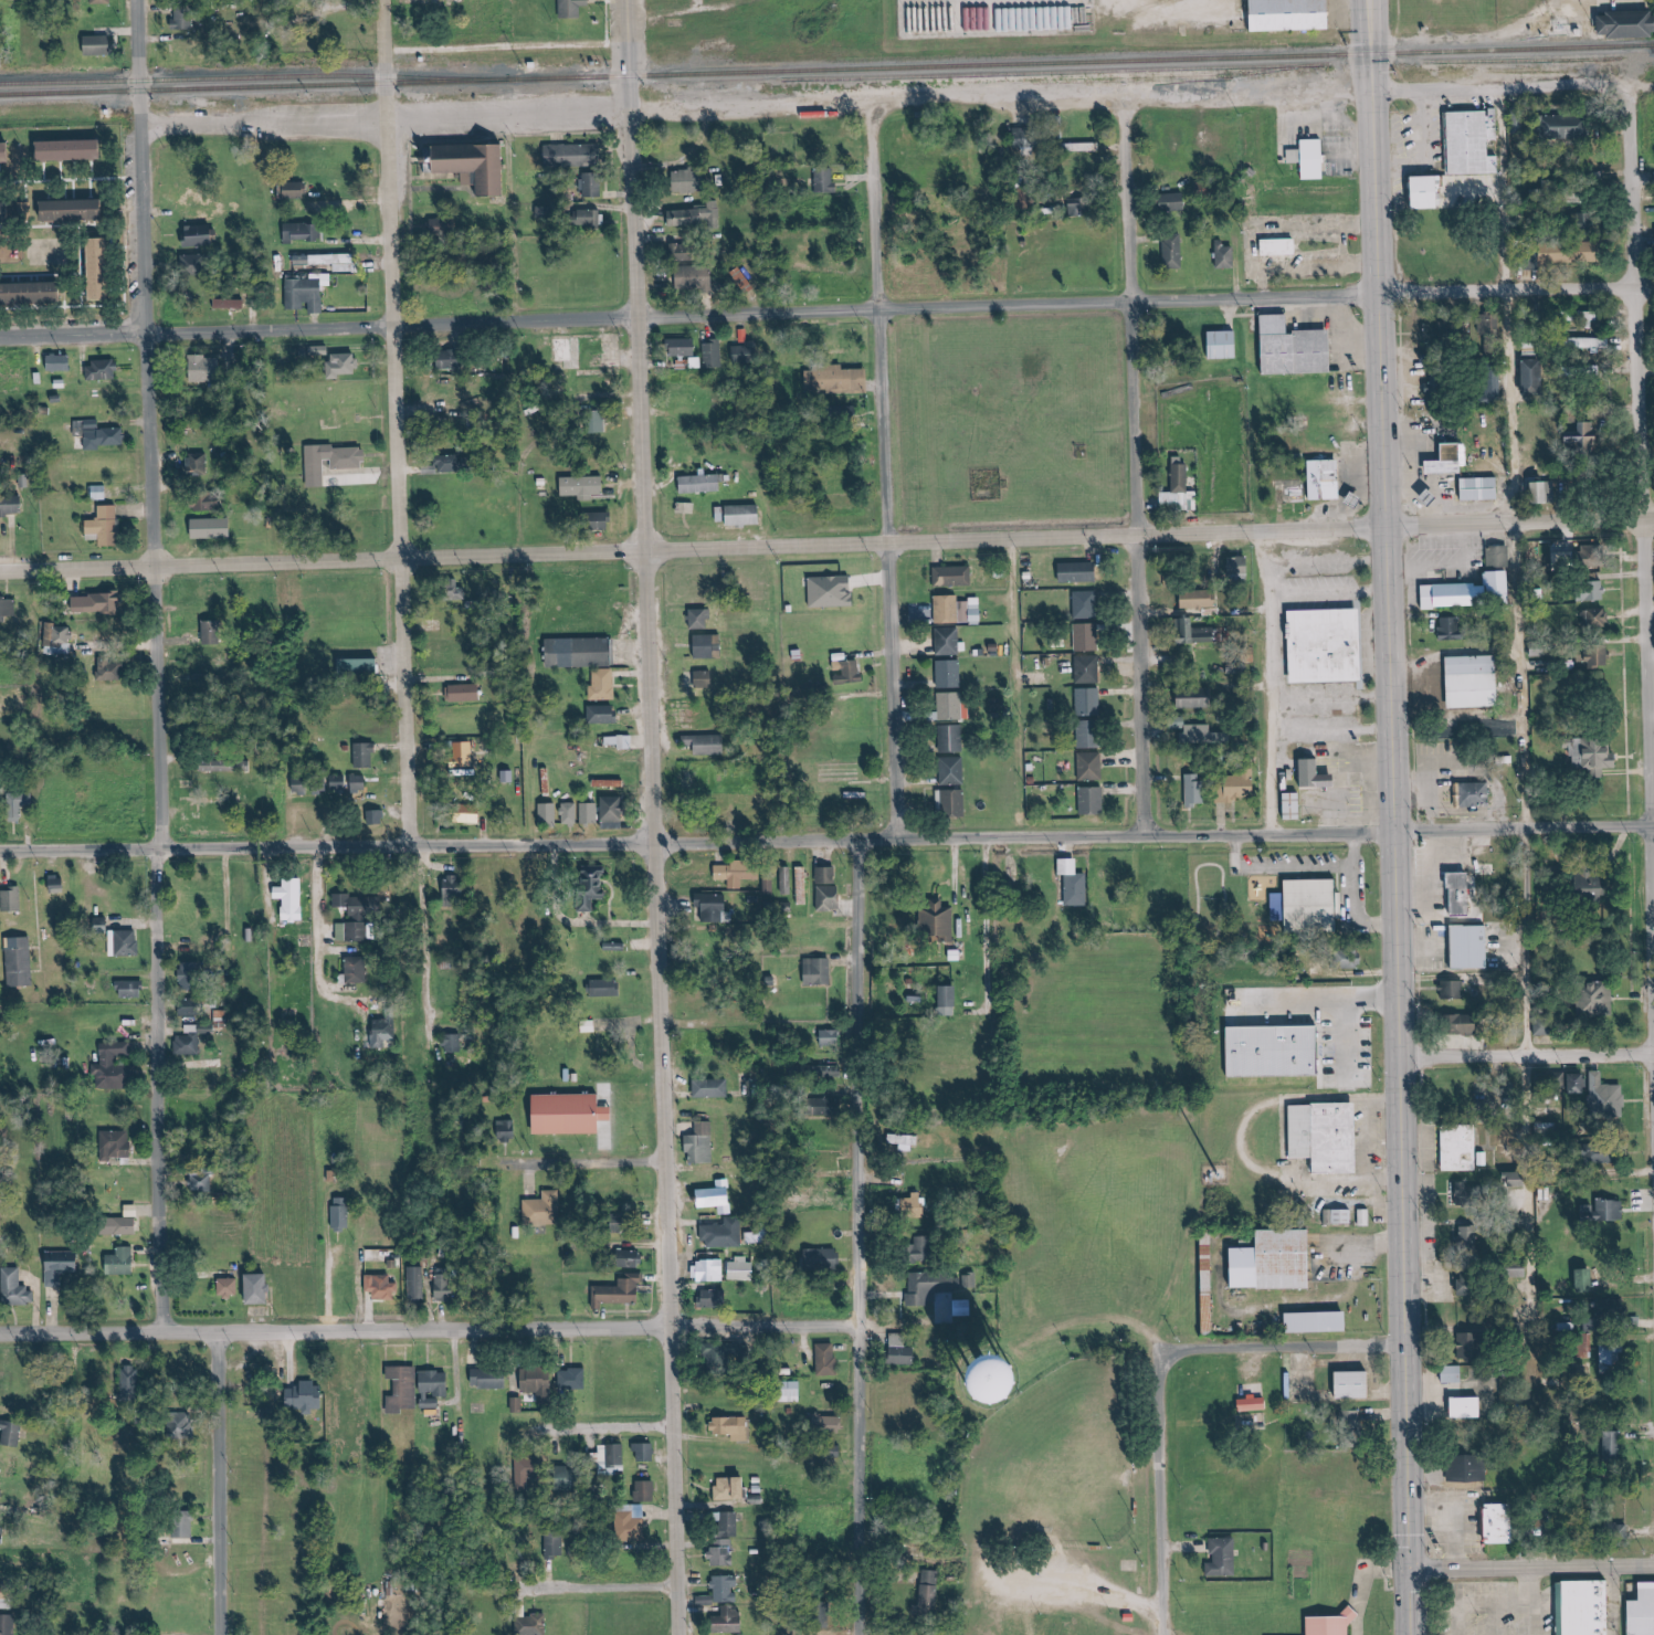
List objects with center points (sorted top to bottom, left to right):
building: (104, 1)
road: (1120, 6)
building: (573, 9)
road: (688, 12)
building: (1295, 14)
building: (186, 18)
road: (1394, 20)
building: (1629, 21)
road: (1475, 38)
building: (101, 45)
railway: (1176, 68)
railway: (826, 70)
railway: (239, 76)
road: (1478, 87)
road: (1245, 91)
road: (870, 102)
road: (503, 114)
road: (263, 122)
building: (1569, 126)
building: (1028, 137)
building: (1473, 143)
building: (1086, 147)
building: (74, 150)
building: (7, 152)
building: (576, 155)
building: (1313, 158)
building: (461, 166)
building: (688, 181)
building: (826, 181)
building: (594, 184)
building: (298, 190)
building: (1424, 193)
building: (1176, 202)
building: (1082, 205)
building: (25, 210)
building: (77, 210)
building: (7, 212)
building: (695, 217)
building: (594, 218)
building: (444, 225)
building: (305, 232)
building: (202, 234)
building: (1282, 246)
building: (1174, 251)
building: (686, 252)
building: (1228, 255)
building: (304, 260)
building: (345, 262)
building: (197, 264)
building: (103, 268)
building: (697, 277)
building: (747, 281)
building: (33, 292)
building: (306, 294)
building: (232, 303)
road: (826, 310)
building: (1490, 323)
building: (1447, 330)
building: (1594, 344)
building: (1226, 345)
building: (684, 347)
building: (1285, 347)
building: (322, 350)
building: (748, 352)
building: (714, 355)
building: (453, 359)
building: (61, 362)
building: (345, 365)
building: (208, 369)
building: (103, 370)
building: (1537, 376)
building: (839, 379)
building: (1442, 384)
building: (598, 421)
road: (396, 422)
building: (102, 435)
building: (1588, 436)
building: (1453, 460)
building: (198, 464)
building: (350, 464)
building: (456, 464)
road: (1135, 464)
building: (1327, 479)
road: (884, 483)
building: (703, 484)
building: (584, 487)
building: (1181, 488)
building: (1483, 488)
building: (102, 493)
building: (1545, 493)
building: (12, 504)
building: (209, 505)
building: (740, 515)
building: (108, 526)
building: (213, 528)
road: (1145, 532)
building: (1500, 557)
road: (317, 559)
building: (1241, 568)
building: (1081, 572)
building: (954, 576)
building: (833, 591)
building: (1473, 592)
building: (1593, 592)
building: (1202, 599)
building: (99, 603)
building: (1087, 604)
building: (8, 608)
building: (959, 610)
building: (1598, 618)
building: (702, 619)
road: (1644, 624)
building: (1455, 629)
building: (214, 633)
building: (1200, 633)
building: (1088, 636)
building: (60, 640)
building: (949, 641)
building: (1316, 644)
building: (709, 646)
building: (581, 653)
building: (1601, 657)
road: (156, 666)
building: (362, 667)
building: (849, 669)
building: (1088, 669)
building: (112, 671)
building: (950, 673)
road: (1519, 675)
building: (706, 679)
road: (1262, 682)
building: (1476, 682)
building: (604, 684)
building: (465, 693)
building: (1199, 698)
building: (1091, 702)
building: (952, 706)
building: (604, 715)
building: (1092, 734)
building: (1205, 737)
building: (952, 738)
building: (622, 741)
building: (708, 743)
building: (463, 755)
building: (366, 756)
building: (1597, 756)
building: (222, 766)
building: (1092, 766)
building: (952, 770)
building: (1315, 773)
building: (350, 782)
building: (309, 785)
building: (1241, 789)
building: (1198, 790)
building: (1477, 794)
building: (1094, 801)
building: (952, 802)
building: (21, 804)
building: (1296, 806)
building: (550, 812)
building: (476, 813)
building: (571, 813)
building: (591, 813)
building: (615, 813)
road: (1394, 816)
building: (378, 818)
road: (641, 818)
road: (906, 838)
road: (80, 852)
building: (739, 872)
building: (829, 875)
building: (787, 880)
building: (1076, 883)
building: (1551, 883)
building: (59, 884)
building: (770, 885)
building: (803, 885)
building: (592, 886)
building: (1595, 886)
building: (455, 887)
building: (1451, 893)
building: (1462, 894)
building: (293, 898)
building: (830, 898)
building: (13, 899)
building: (1303, 905)
building: (715, 907)
road: (957, 910)
building: (359, 916)
building: (939, 920)
road: (426, 924)
building: (103, 925)
road: (274, 929)
road: (322, 939)
building: (126, 942)
building: (617, 947)
building: (1460, 947)
road: (994, 956)
building: (21, 962)
building: (358, 970)
building: (820, 971)
building: (192, 977)
building: (607, 988)
building: (131, 989)
building: (1454, 990)
building: (952, 996)
building: (1599, 999)
building: (190, 1008)
building: (948, 1011)
building: (1465, 1024)
building: (384, 1032)
building: (833, 1038)
building: (455, 1043)
building: (189, 1045)
building: (1277, 1052)
road: (1526, 1052)
building: (116, 1067)
building: (1542, 1079)
building: (714, 1088)
building: (1602, 1095)
building: (573, 1115)
building: (508, 1129)
building: (1316, 1137)
road: (1233, 1141)
road: (1274, 1141)
building: (906, 1142)
building: (117, 1144)
building: (703, 1144)
building: (1463, 1148)
road: (597, 1161)
building: (1518, 1179)
building: (202, 1183)
building: (1471, 1194)
building: (719, 1198)
building: (917, 1206)
building: (546, 1210)
building: (1606, 1211)
building: (343, 1214)
building: (1340, 1216)
building: (1367, 1217)
building: (128, 1226)
building: (726, 1234)
building: (1471, 1236)
road: (858, 1237)
building: (927, 1248)
building: (633, 1259)
building: (824, 1259)
building: (123, 1262)
building: (1278, 1262)
building: (62, 1266)
building: (744, 1269)
building: (713, 1270)
building: (1587, 1280)
building: (417, 1283)
building: (1472, 1283)
building: (1211, 1284)
building: (446, 1285)
building: (938, 1286)
building: (383, 1287)
building: (17, 1288)
building: (231, 1288)
building: (262, 1289)
building: (621, 1293)
building: (715, 1298)
building: (966, 1308)
building: (1612, 1309)
road: (1108, 1321)
building: (1320, 1322)
road: (429, 1330)
road: (1286, 1344)
building: (1475, 1347)
building: (904, 1350)
building: (729, 1356)
building: (1612, 1358)
building: (829, 1360)
road: (1242, 1370)
building: (1455, 1374)
water tower: (979, 1376)
building: (492, 1380)
building: (575, 1380)
building: (540, 1383)
building: (130, 1384)
building: (1041, 1385)
building: (1358, 1385)
building: (405, 1389)
building: (436, 1389)
building: (796, 1391)
building: (308, 1397)
building: (1243, 1403)
building: (517, 1405)
building: (1471, 1409)
building: (1353, 1420)
building: (830, 1423)
building: (183, 1425)
road: (620, 1425)
building: (734, 1427)
building: (13, 1433)
building: (1614, 1446)
building: (645, 1452)
building: (613, 1459)
building: (1456, 1466)
building: (529, 1470)
building: (572, 1478)
road: (218, 1484)
building: (735, 1488)
building: (647, 1490)
road: (1163, 1491)
road: (1431, 1501)
park: (1063, 1502)
building: (729, 1522)
building: (1492, 1522)
building: (186, 1526)
building: (633, 1527)
building: (2, 1536)
road: (1454, 1536)
road: (1431, 1537)
building: (557, 1544)
road: (1180, 1549)
building: (724, 1552)
building: (1212, 1555)
road: (1531, 1568)
traffic signals: (1410, 1572)
road: (1356, 1578)
road: (1521, 1585)
road: (601, 1587)
building: (6, 1591)
building: (726, 1591)
building: (930, 1594)
road: (1075, 1594)
road: (1455, 1603)
road: (1492, 1603)
building: (1578, 1607)
building: (1636, 1607)
road: (1523, 1618)
building: (731, 1620)
building: (8, 1624)
building: (534, 1625)
building: (1320, 1625)

